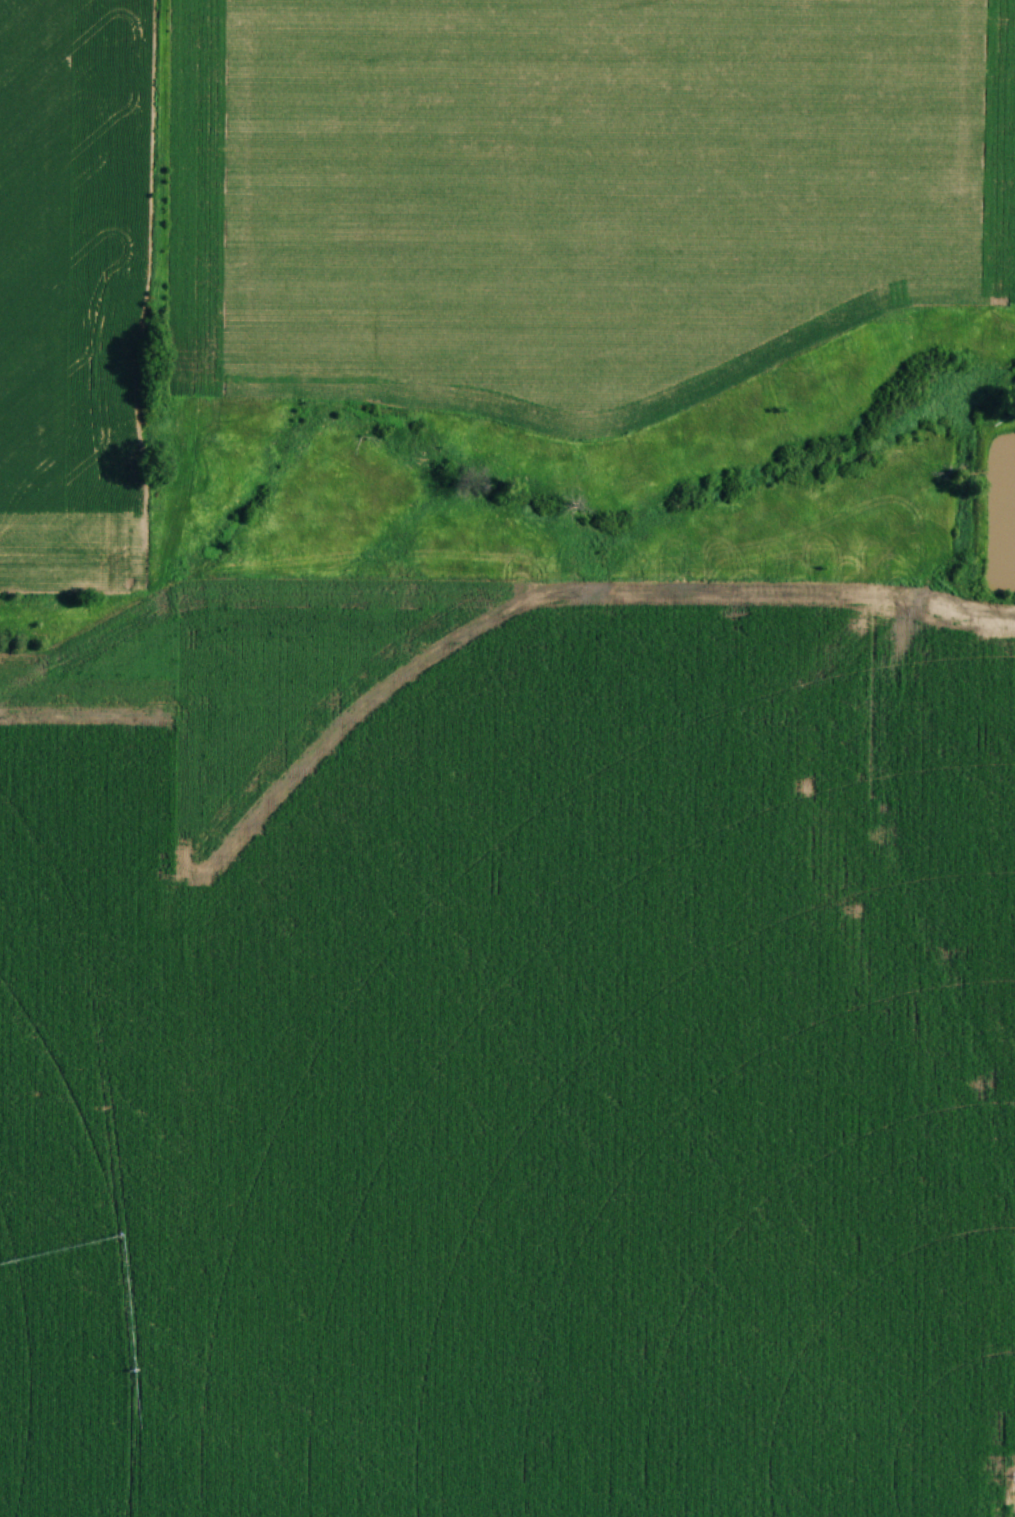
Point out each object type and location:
crop: (578, 191)
crop: (73, 289)
crop: (510, 1054)

